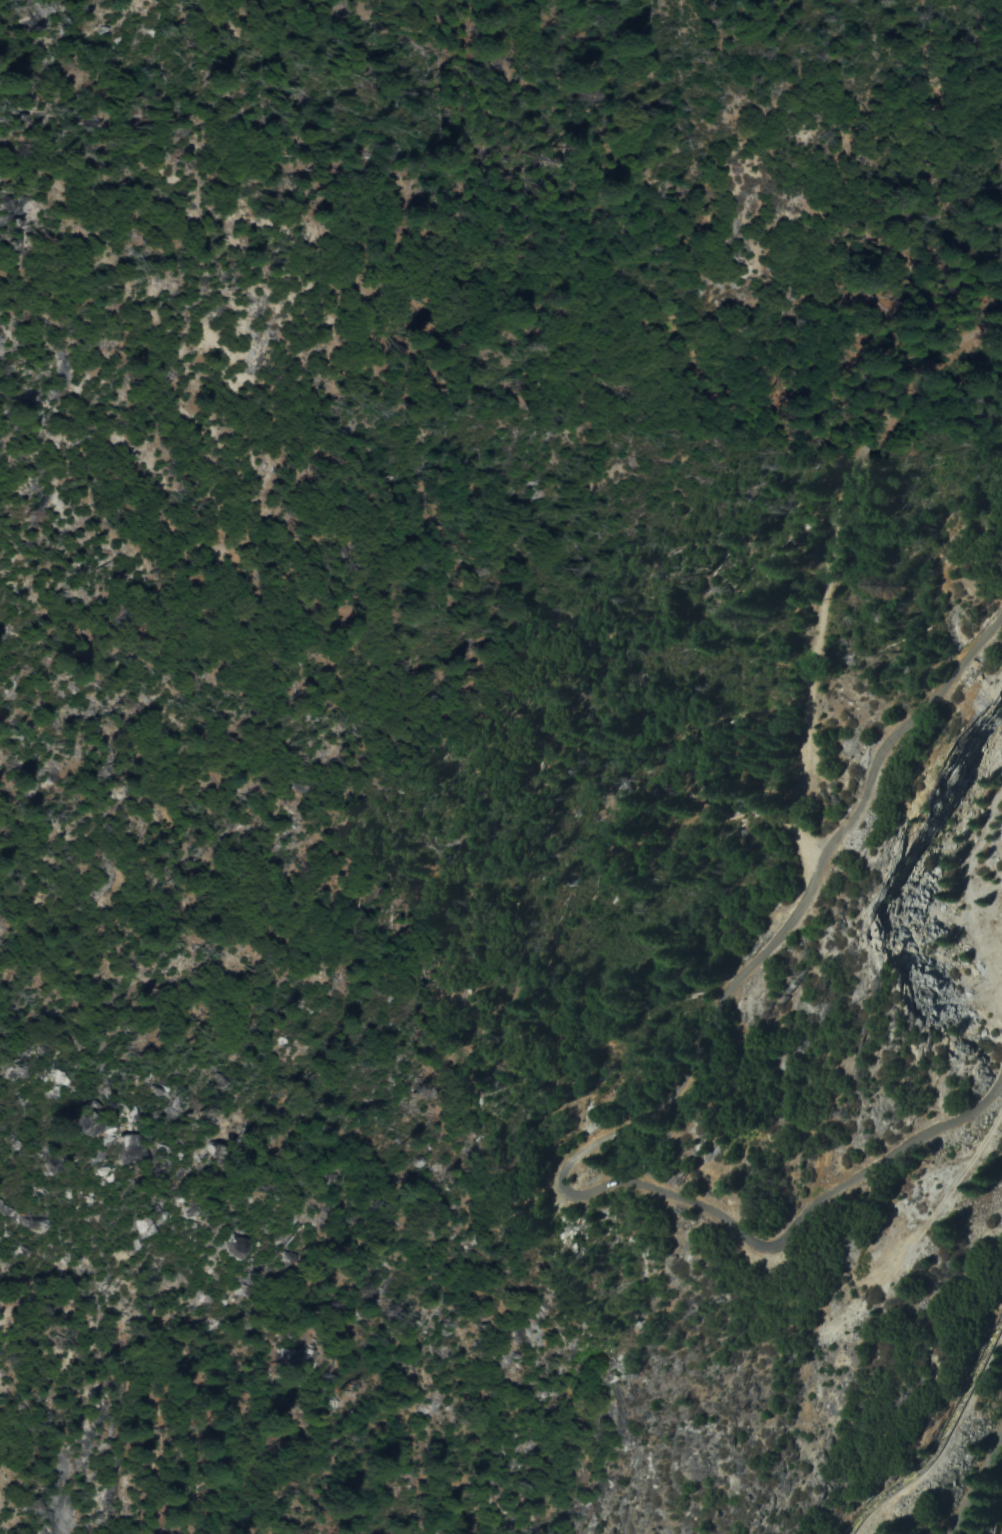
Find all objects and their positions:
road: (819, 573)
road: (658, 1092)
power tower: (832, 1299)
road: (972, 1472)
river: (979, 1503)

